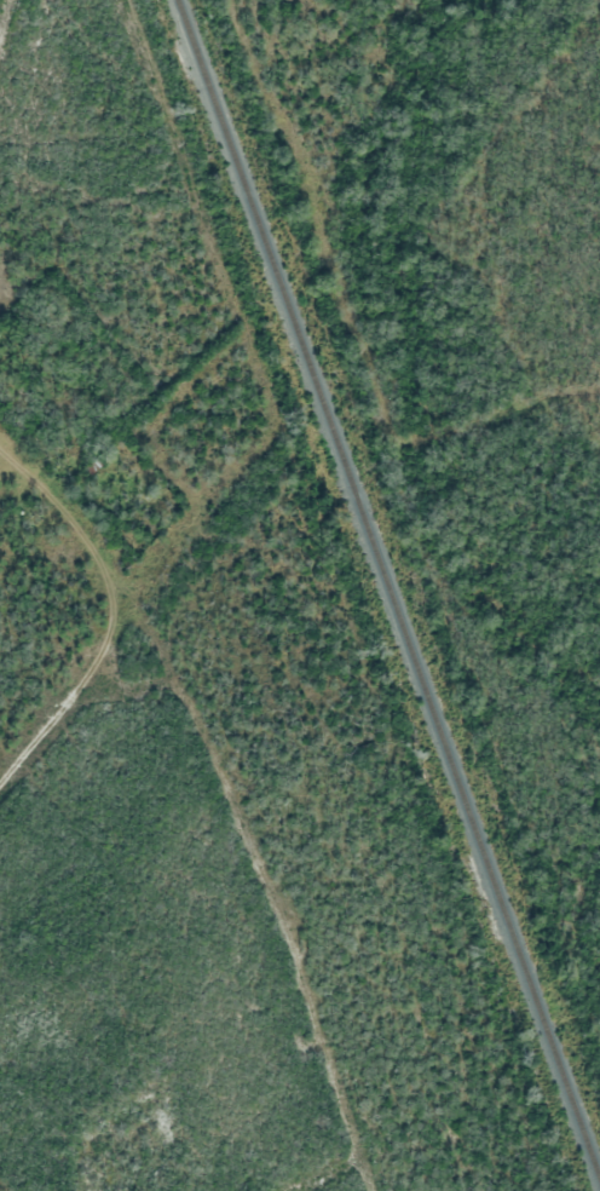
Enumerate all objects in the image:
railway: (388, 591)

